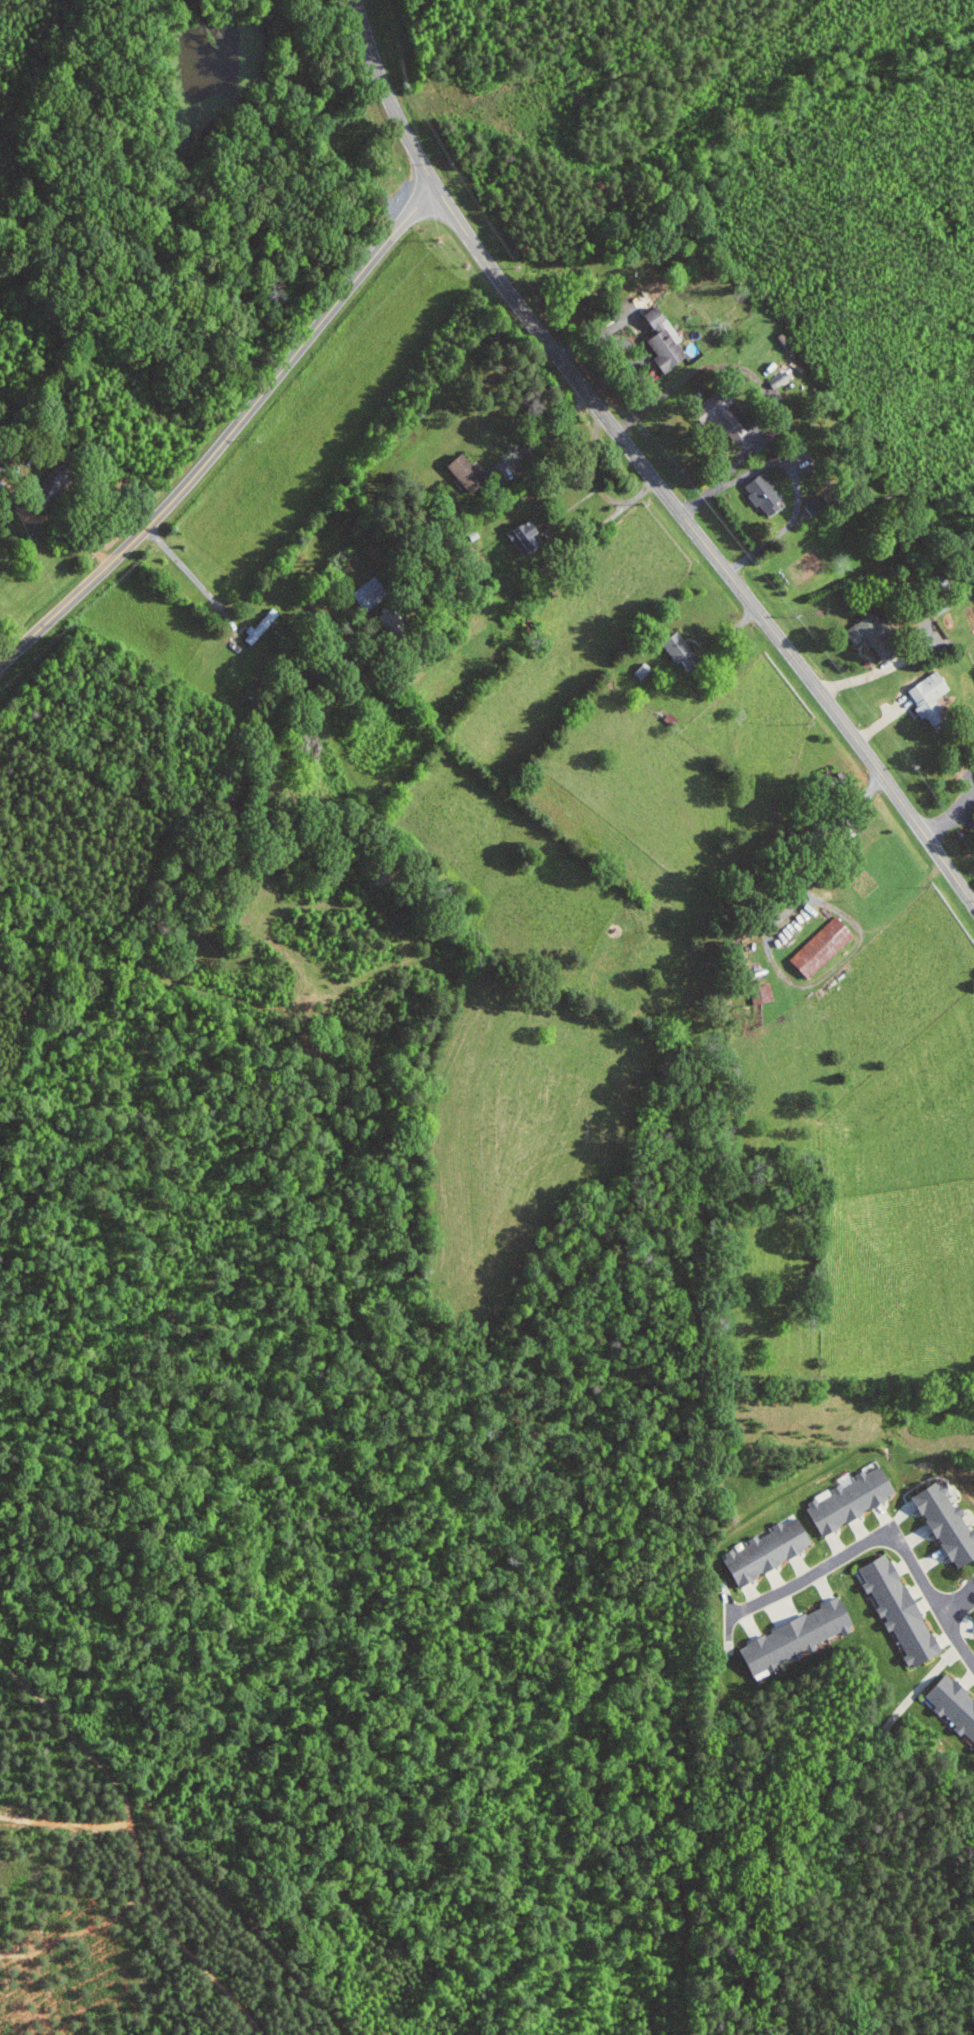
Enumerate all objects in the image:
building: (665, 339)
building: (784, 342)
road: (749, 372)
building: (724, 413)
road: (543, 434)
road: (228, 436)
road: (643, 465)
building: (469, 473)
road: (794, 473)
building: (766, 493)
road: (611, 517)
building: (529, 536)
road: (196, 580)
building: (374, 591)
building: (263, 625)
building: (876, 635)
building: (684, 652)
road: (864, 674)
building: (932, 696)
road: (967, 798)
road: (949, 815)
building: (824, 946)
building: (762, 994)
building: (853, 1499)
building: (948, 1523)
road: (860, 1545)
building: (771, 1550)
building: (901, 1609)
road: (948, 1622)
road: (922, 1686)
building: (955, 1704)

